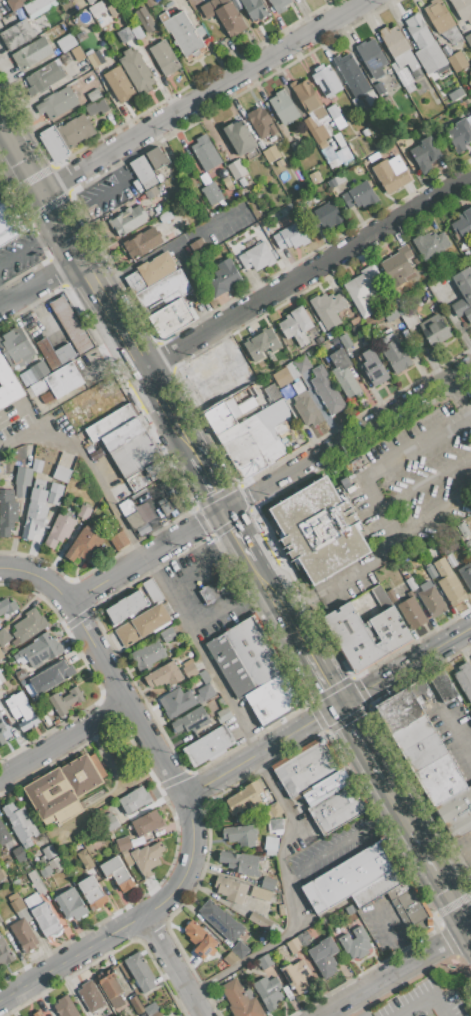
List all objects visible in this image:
building: (156, 1)
building: (91, 2)
building: (15, 3)
building: (149, 3)
building: (278, 5)
building: (38, 7)
building: (96, 9)
building: (113, 9)
building: (254, 9)
building: (462, 9)
building: (224, 15)
building: (439, 15)
building: (0, 17)
building: (148, 24)
building: (137, 32)
building: (181, 32)
building: (451, 34)
building: (17, 35)
building: (125, 35)
building: (468, 39)
building: (66, 42)
building: (424, 44)
building: (399, 49)
building: (31, 53)
building: (165, 57)
building: (371, 57)
building: (94, 58)
building: (456, 61)
building: (136, 70)
building: (470, 72)
building: (351, 75)
building: (43, 78)
building: (325, 80)
building: (469, 82)
building: (119, 84)
building: (93, 94)
building: (455, 94)
road: (201, 95)
building: (305, 95)
building: (56, 103)
building: (96, 107)
building: (283, 107)
building: (261, 122)
building: (315, 130)
building: (365, 132)
building: (460, 135)
building: (65, 136)
building: (240, 139)
building: (205, 152)
building: (271, 153)
building: (425, 154)
building: (327, 156)
building: (157, 157)
building: (279, 163)
building: (236, 169)
road: (11, 172)
building: (143, 172)
building: (391, 174)
building: (160, 177)
building: (315, 177)
building: (336, 181)
building: (211, 193)
building: (359, 195)
building: (324, 215)
building: (165, 217)
building: (127, 220)
building: (9, 221)
building: (462, 225)
building: (173, 234)
building: (290, 234)
road: (48, 236)
building: (142, 242)
building: (431, 244)
building: (197, 246)
road: (71, 247)
road: (166, 247)
road: (18, 254)
building: (256, 256)
building: (397, 264)
building: (156, 268)
road: (306, 272)
building: (223, 278)
road: (38, 280)
building: (134, 282)
building: (362, 289)
building: (163, 292)
building: (463, 294)
road: (1, 298)
building: (401, 305)
building: (328, 308)
building: (391, 315)
road: (40, 316)
building: (170, 317)
building: (373, 319)
building: (410, 319)
building: (70, 324)
building: (296, 325)
building: (434, 330)
building: (345, 340)
building: (261, 343)
building: (16, 347)
building: (55, 353)
building: (395, 355)
building: (370, 360)
road: (106, 361)
building: (301, 364)
building: (39, 371)
building: (216, 374)
building: (344, 374)
building: (281, 376)
building: (27, 379)
building: (59, 381)
building: (8, 384)
building: (327, 390)
building: (272, 392)
road: (459, 395)
building: (47, 397)
road: (161, 401)
building: (305, 405)
building: (232, 410)
road: (470, 414)
road: (347, 435)
building: (256, 439)
road: (415, 444)
building: (128, 446)
road: (88, 467)
road: (203, 470)
building: (61, 474)
building: (23, 475)
road: (424, 481)
building: (162, 489)
building: (20, 490)
building: (54, 494)
building: (168, 505)
road: (376, 505)
building: (126, 508)
traffic signals: (225, 509)
building: (7, 511)
building: (83, 512)
road: (431, 512)
building: (35, 513)
building: (134, 520)
building: (60, 529)
building: (462, 529)
building: (319, 530)
road: (240, 534)
building: (117, 541)
building: (83, 545)
building: (469, 547)
road: (146, 555)
road: (201, 558)
building: (451, 561)
building: (466, 575)
road: (38, 577)
road: (342, 578)
building: (448, 582)
building: (411, 583)
road: (271, 586)
road: (167, 589)
building: (152, 590)
building: (213, 590)
building: (391, 595)
building: (431, 599)
road: (227, 602)
building: (7, 606)
building: (125, 607)
building: (412, 612)
building: (142, 625)
building: (28, 626)
road: (467, 628)
road: (297, 630)
building: (168, 634)
building: (365, 635)
building: (4, 637)
road: (438, 645)
building: (40, 650)
building: (1, 655)
building: (148, 655)
building: (245, 657)
building: (189, 669)
building: (21, 674)
building: (164, 675)
building: (51, 676)
building: (204, 676)
road: (322, 676)
building: (464, 679)
road: (376, 682)
road: (426, 682)
building: (441, 684)
road: (222, 688)
building: (420, 690)
building: (205, 691)
building: (275, 699)
road: (123, 700)
building: (65, 701)
building: (176, 702)
building: (220, 703)
traffic signals: (339, 705)
building: (400, 709)
building: (21, 711)
building: (223, 715)
building: (191, 720)
road: (455, 730)
building: (1, 733)
road: (355, 733)
road: (62, 740)
building: (420, 743)
building: (208, 745)
road: (260, 750)
building: (307, 766)
road: (378, 769)
building: (441, 779)
building: (327, 786)
building: (65, 788)
road: (392, 795)
building: (243, 797)
building: (134, 799)
building: (338, 808)
building: (272, 810)
building: (457, 812)
road: (287, 813)
road: (386, 816)
building: (109, 821)
building: (147, 823)
building: (21, 824)
road: (410, 825)
building: (275, 826)
building: (239, 835)
building: (4, 836)
building: (123, 844)
building: (270, 845)
road: (328, 851)
building: (49, 852)
building: (19, 853)
building: (147, 858)
building: (85, 859)
building: (242, 861)
building: (55, 865)
building: (2, 872)
building: (117, 872)
building: (350, 876)
road: (442, 879)
building: (36, 881)
building: (267, 883)
building: (230, 889)
building: (92, 891)
building: (261, 893)
building: (16, 902)
building: (71, 904)
road: (289, 905)
building: (43, 915)
road: (468, 918)
building: (220, 920)
road: (130, 922)
road: (468, 925)
building: (23, 934)
road: (390, 936)
building: (199, 939)
building: (304, 939)
building: (355, 942)
building: (293, 945)
building: (239, 949)
building: (5, 953)
building: (324, 956)
building: (264, 960)
road: (241, 962)
road: (173, 965)
road: (395, 971)
building: (140, 972)
building: (296, 975)
building: (108, 984)
building: (268, 992)
building: (91, 997)
road: (421, 997)
building: (240, 1000)
road: (355, 1006)
building: (65, 1007)
building: (150, 1009)
building: (38, 1013)
building: (155, 1014)

